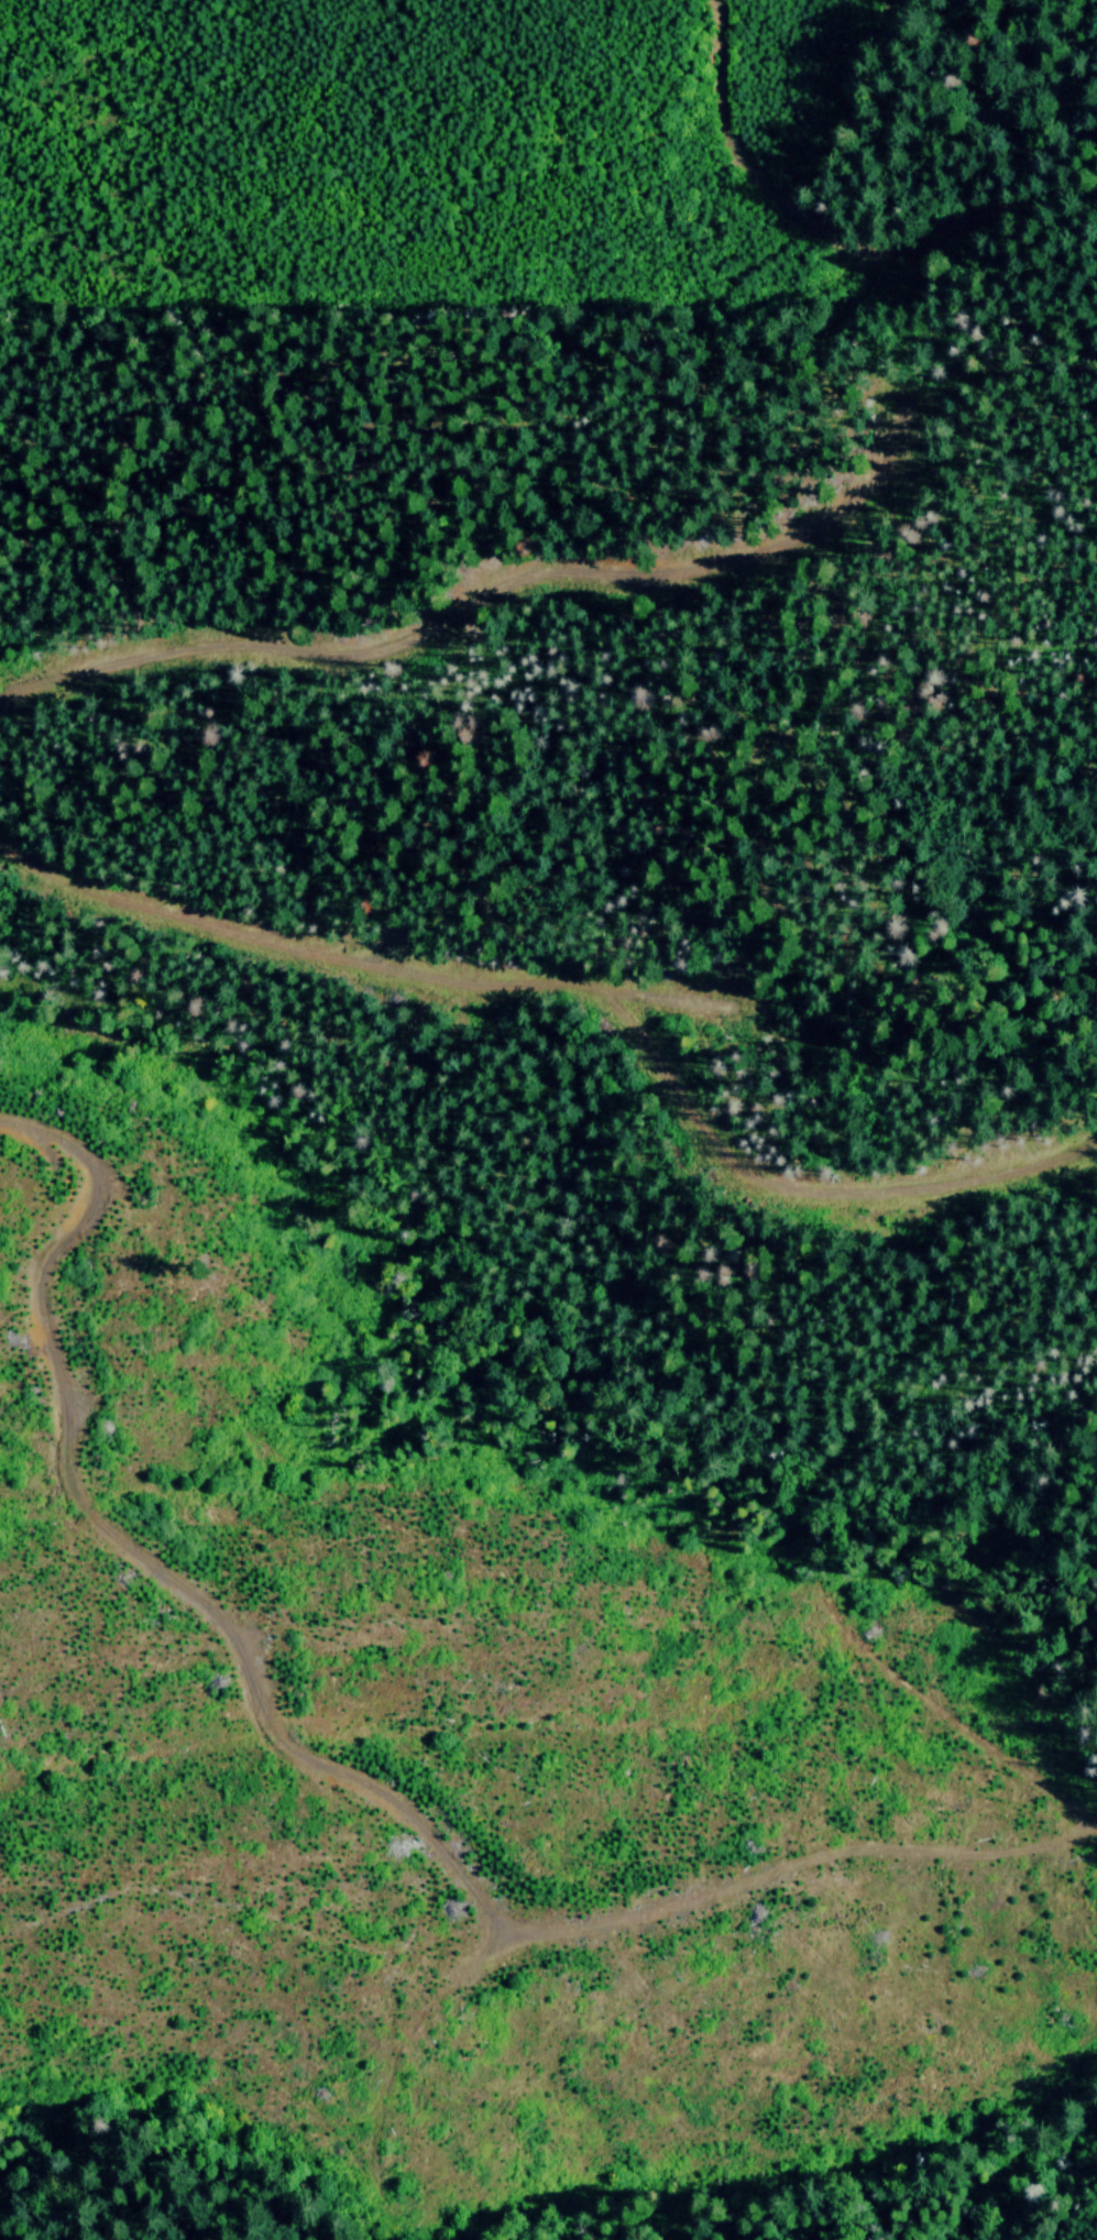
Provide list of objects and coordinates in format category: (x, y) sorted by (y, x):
road: (825, 218)
road: (639, 880)
road: (1041, 1315)
road: (815, 1580)
road: (349, 1769)
road: (1094, 1815)

